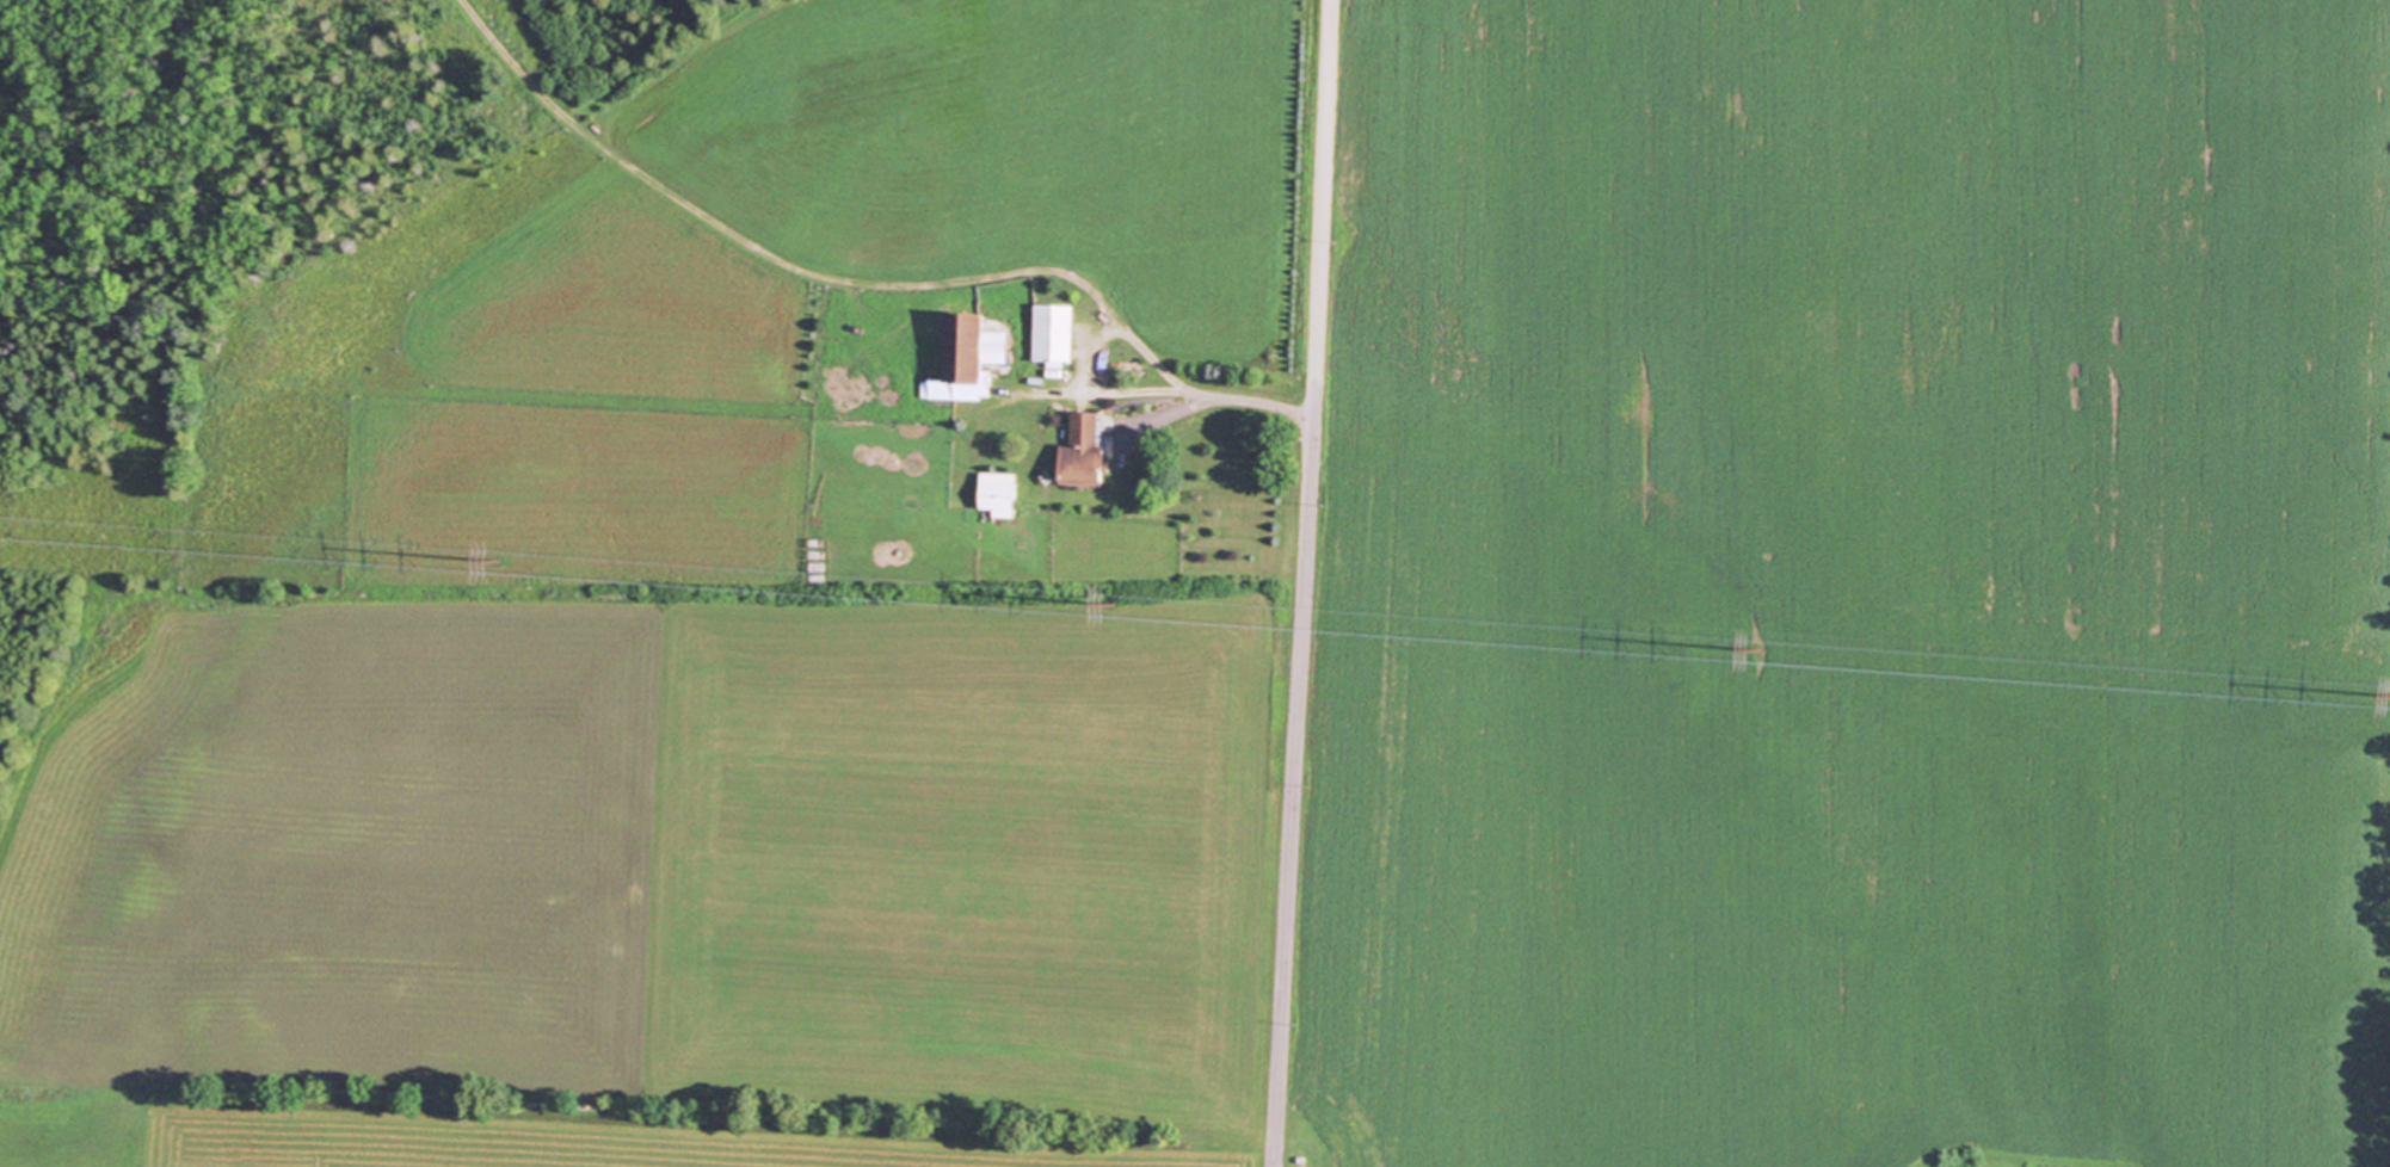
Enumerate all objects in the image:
building: (1057, 333)
building: (977, 353)
road: (1193, 394)
building: (1090, 450)
building: (1000, 499)
power tower: (501, 560)
road: (1300, 583)
power tower: (1117, 606)
power tower: (1757, 647)

